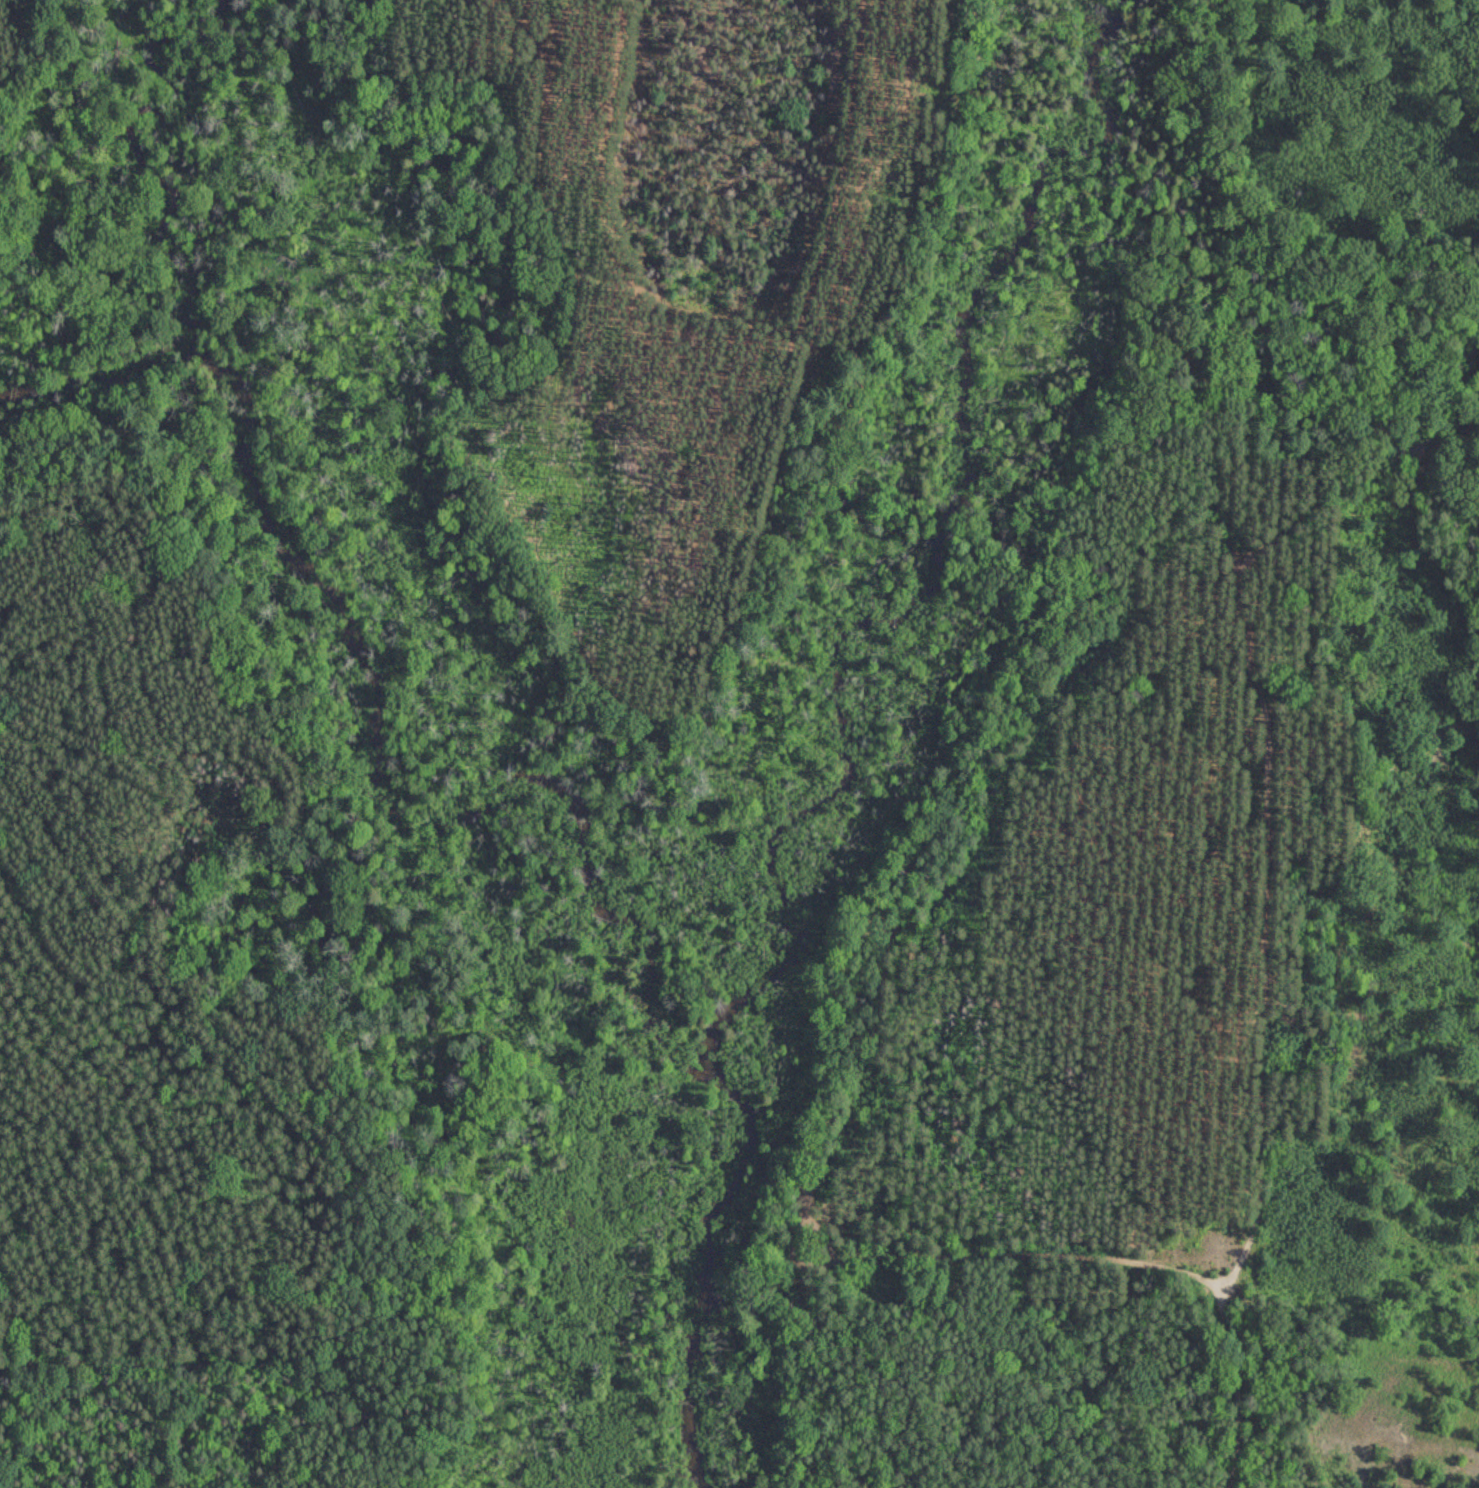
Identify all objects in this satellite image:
road: (1296, 567)
road: (1408, 1200)

